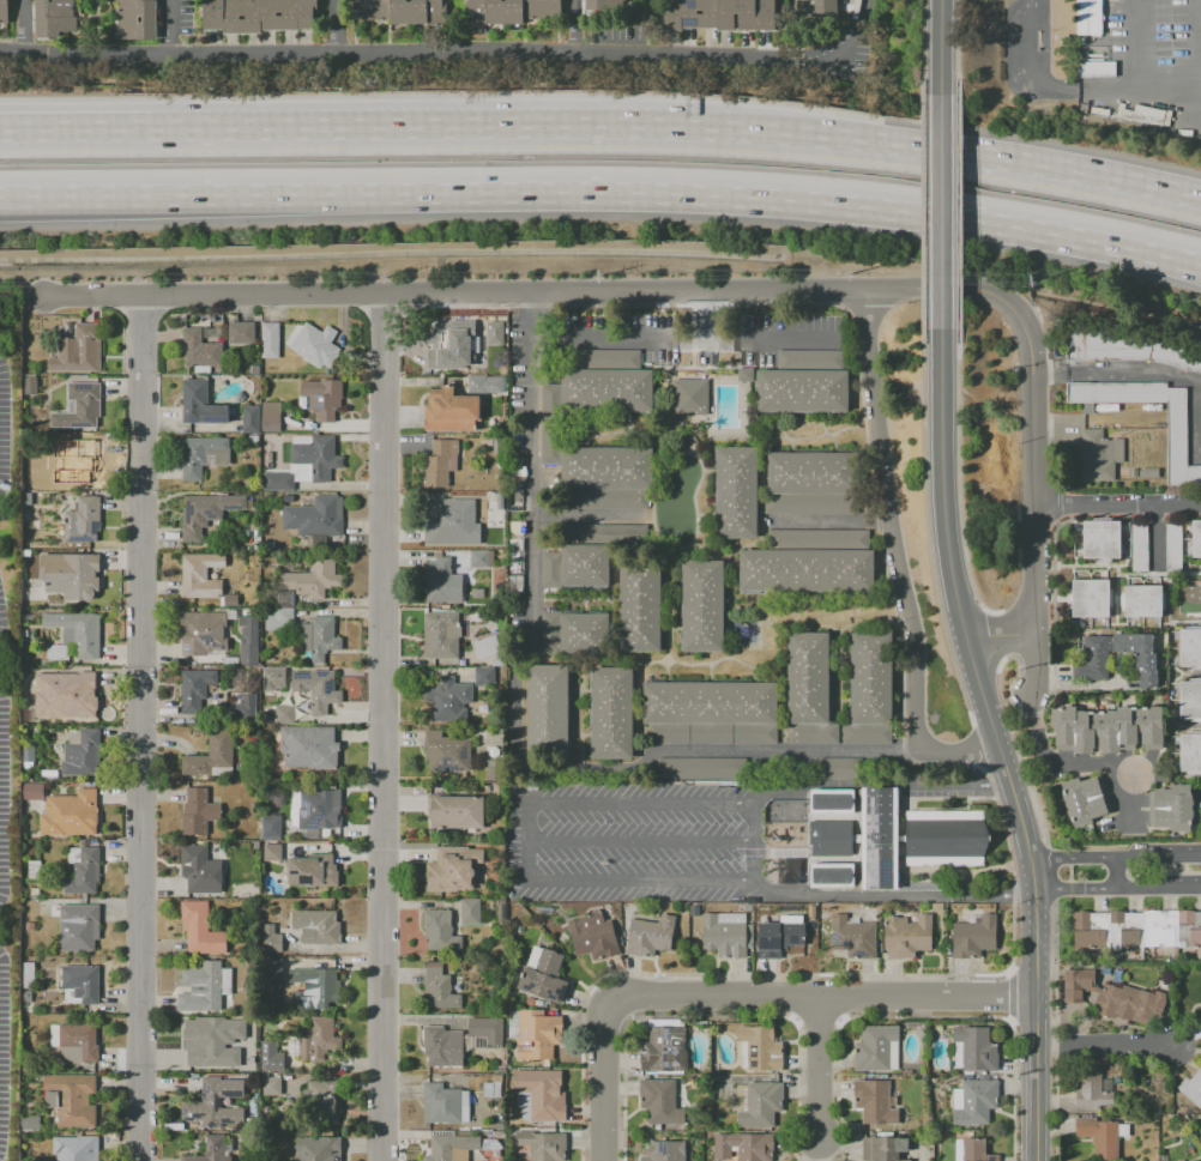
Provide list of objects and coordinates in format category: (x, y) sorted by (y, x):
building: (605, 6)
building: (816, 7)
building: (509, 10)
building: (2, 11)
building: (402, 11)
building: (259, 14)
building: (718, 14)
building: (53, 17)
building: (1087, 17)
building: (138, 19)
road: (1200, 20)
road: (572, 25)
road: (24, 28)
road: (167, 29)
road: (345, 29)
road: (849, 37)
road: (922, 46)
road: (956, 46)
road: (941, 47)
road: (1128, 47)
road: (408, 56)
road: (1024, 71)
road: (1164, 87)
road: (1103, 93)
road: (440, 127)
road: (76, 131)
road: (965, 156)
road: (603, 193)
road: (922, 211)
road: (941, 211)
road: (958, 211)
road: (935, 289)
road: (445, 294)
road: (529, 313)
road: (704, 314)
building: (496, 325)
building: (240, 332)
building: (210, 334)
road: (680, 334)
building: (268, 340)
building: (313, 344)
building: (457, 344)
building: (1125, 349)
building: (78, 350)
building: (199, 350)
building: (605, 358)
building: (809, 359)
road: (1027, 359)
road: (1115, 370)
building: (744, 374)
building: (29, 383)
building: (484, 383)
building: (606, 389)
building: (802, 391)
building: (689, 397)
building: (322, 398)
building: (550, 401)
building: (199, 404)
building: (79, 406)
building: (451, 410)
building: (270, 416)
building: (249, 418)
road: (143, 433)
building: (1175, 433)
building: (265, 442)
building: (550, 446)
building: (201, 455)
building: (266, 455)
building: (1099, 455)
building: (306, 461)
building: (79, 462)
building: (439, 462)
road: (1033, 462)
building: (606, 467)
building: (814, 472)
building: (1133, 472)
building: (1148, 473)
road: (958, 479)
building: (736, 491)
building: (26, 498)
building: (605, 498)
building: (811, 502)
road: (1118, 506)
building: (491, 514)
building: (195, 515)
road: (585, 515)
building: (314, 516)
building: (82, 519)
road: (891, 520)
road: (832, 521)
building: (439, 522)
road: (927, 530)
building: (606, 534)
road: (1155, 537)
building: (1196, 538)
building: (819, 539)
building: (1100, 539)
road: (946, 543)
building: (1139, 548)
building: (1172, 548)
building: (499, 555)
building: (479, 558)
building: (584, 567)
building: (550, 568)
building: (807, 570)
building: (70, 574)
building: (199, 575)
building: (440, 579)
road: (1032, 579)
building: (304, 581)
building: (1090, 598)
building: (229, 599)
building: (1142, 601)
building: (701, 605)
building: (639, 607)
road: (530, 623)
building: (204, 630)
building: (304, 630)
building: (550, 633)
building: (584, 633)
building: (73, 634)
building: (440, 635)
road: (988, 635)
road: (997, 635)
building: (247, 637)
building: (485, 647)
building: (1189, 647)
building: (1096, 657)
road: (1033, 661)
road: (1, 663)
building: (483, 676)
building: (808, 677)
building: (870, 677)
building: (274, 678)
building: (35, 679)
road: (1081, 685)
building: (316, 688)
building: (194, 689)
building: (85, 695)
building: (448, 699)
building: (1189, 699)
building: (710, 703)
building: (245, 706)
building: (547, 709)
building: (283, 713)
building: (611, 713)
road: (385, 727)
building: (1106, 728)
building: (712, 733)
building: (813, 733)
building: (867, 733)
building: (308, 746)
road: (978, 746)
road: (1015, 749)
road: (958, 750)
building: (446, 751)
road: (785, 751)
building: (28, 752)
building: (80, 752)
building: (1190, 752)
building: (210, 755)
parking lot: (8, 757)
building: (493, 762)
road: (1085, 766)
building: (843, 767)
building: (698, 768)
building: (49, 774)
building: (497, 788)
building: (32, 791)
building: (1085, 799)
building: (831, 802)
road: (1016, 804)
building: (316, 808)
building: (1170, 808)
park: (784, 810)
building: (197, 811)
building: (455, 812)
building: (70, 814)
building: (268, 828)
building: (829, 834)
building: (879, 838)
building: (946, 838)
road: (525, 839)
parking lot: (634, 839)
road: (641, 840)
building: (254, 845)
building: (272, 852)
road: (756, 855)
road: (1115, 859)
road: (141, 865)
road: (1009, 865)
building: (34, 869)
building: (83, 869)
building: (451, 869)
building: (199, 870)
building: (312, 870)
road: (1046, 872)
road: (1117, 873)
building: (832, 875)
road: (1117, 888)
building: (545, 908)
building: (470, 911)
building: (501, 912)
building: (77, 925)
building: (29, 926)
building: (316, 926)
building: (200, 927)
road: (1036, 929)
building: (1136, 929)
building: (439, 930)
building: (726, 933)
building: (592, 935)
building: (650, 936)
building: (906, 936)
building: (779, 937)
building: (973, 937)
building: (855, 938)
building: (271, 939)
building: (272, 968)
road: (1008, 970)
road: (706, 973)
building: (28, 975)
building: (542, 975)
building: (79, 984)
building: (204, 986)
building: (314, 986)
building: (437, 987)
building: (26, 996)
road: (1010, 996)
building: (1114, 997)
road: (821, 998)
building: (26, 1008)
road: (922, 1015)
road: (644, 1016)
road: (816, 1017)
road: (1009, 1020)
road: (1054, 1030)
building: (533, 1033)
building: (318, 1039)
building: (74, 1040)
building: (459, 1040)
building: (207, 1041)
road: (1102, 1042)
building: (664, 1048)
building: (759, 1048)
building: (876, 1048)
building: (976, 1048)
building: (271, 1057)
road: (821, 1069)
road: (1036, 1080)
road: (602, 1082)
building: (270, 1084)
building: (491, 1087)
building: (1191, 1087)
building: (1093, 1089)
road: (1013, 1090)
road: (797, 1093)
road: (837, 1094)
building: (538, 1095)
building: (322, 1097)
building: (71, 1099)
building: (660, 1101)
building: (874, 1101)
building: (976, 1101)
building: (213, 1102)
building: (445, 1103)
building: (758, 1103)
building: (30, 1123)
building: (1099, 1137)
building: (542, 1145)
building: (743, 1145)
building: (79, 1148)
building: (451, 1148)
building: (882, 1148)
building: (212, 1149)
building: (316, 1149)
building: (665, 1150)
building: (976, 1150)
building: (1181, 1160)
building: (1200, 1160)

